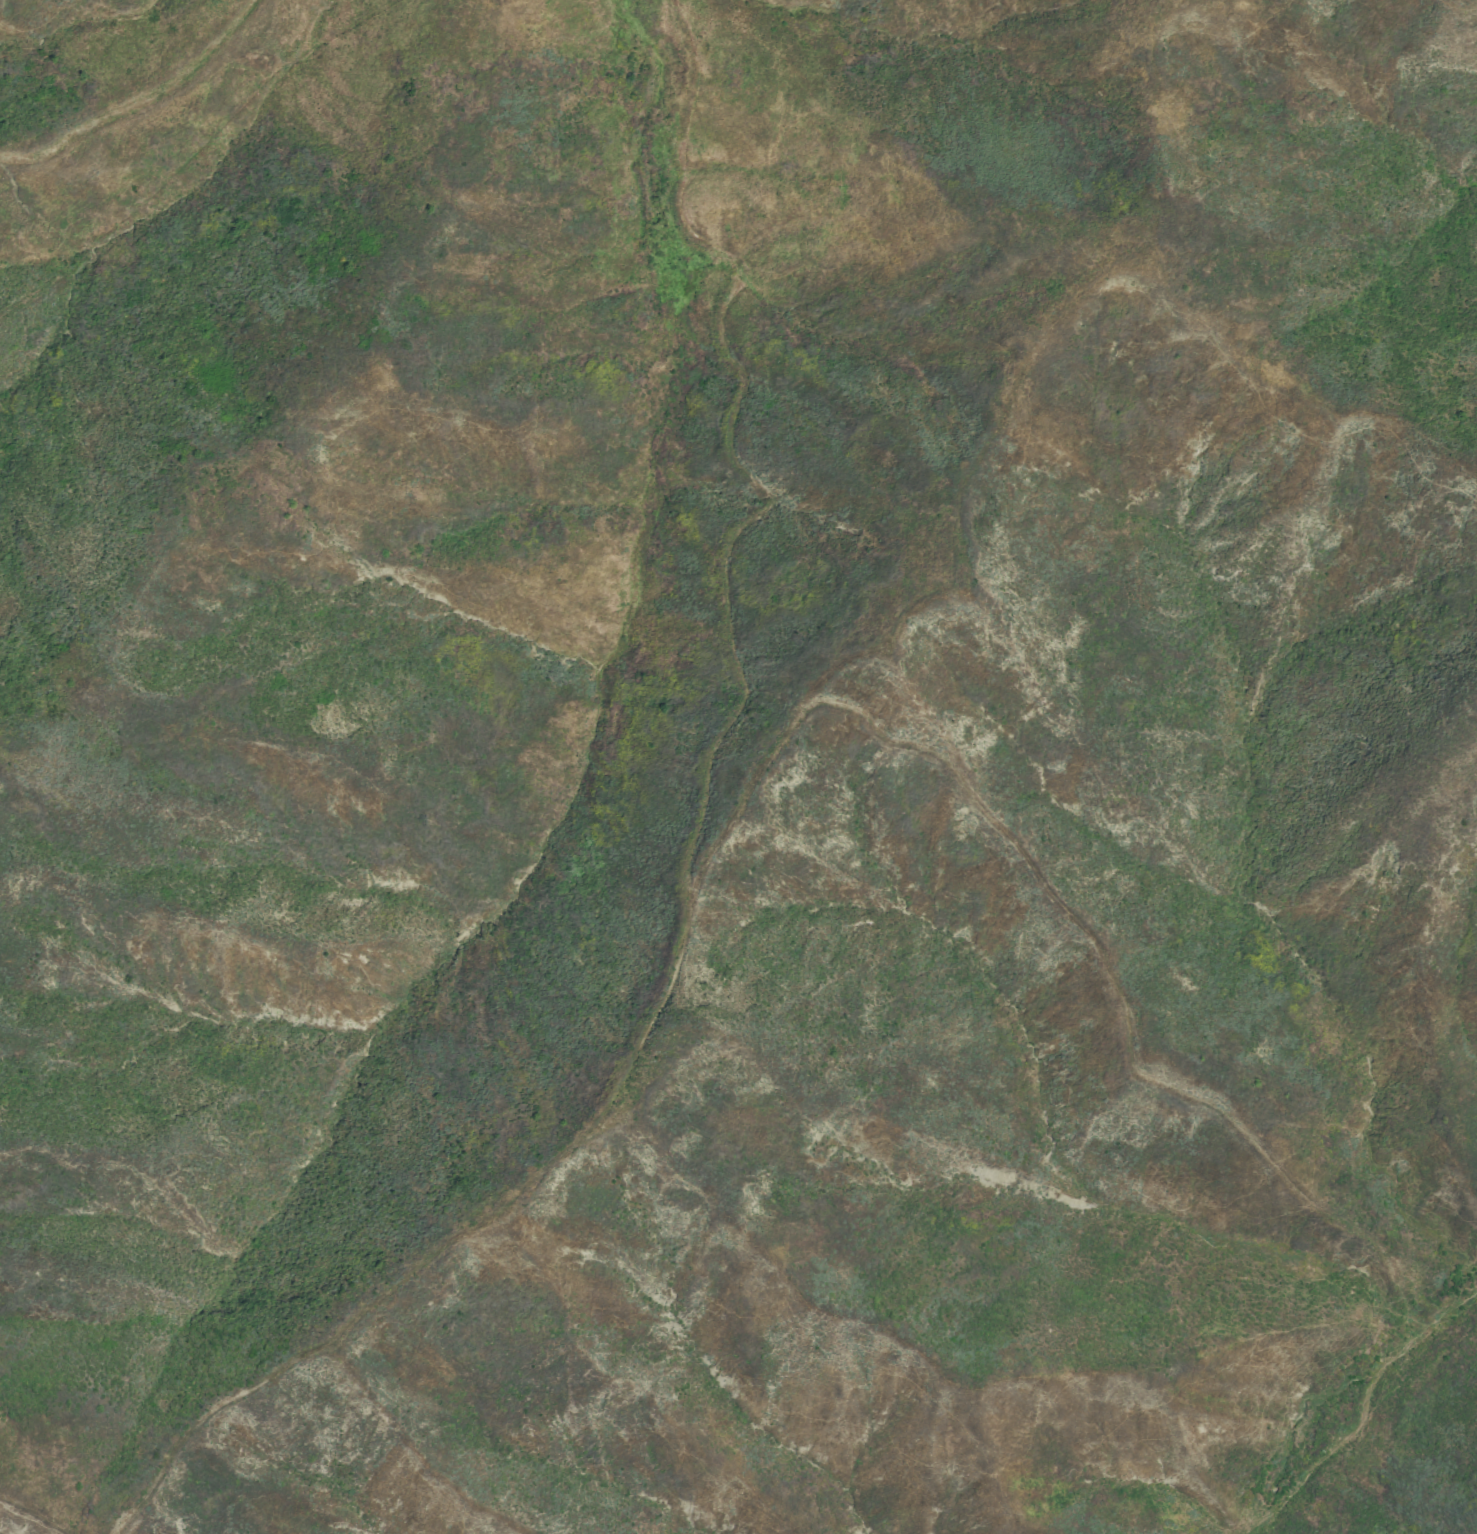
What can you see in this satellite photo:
road: (134, 91)

